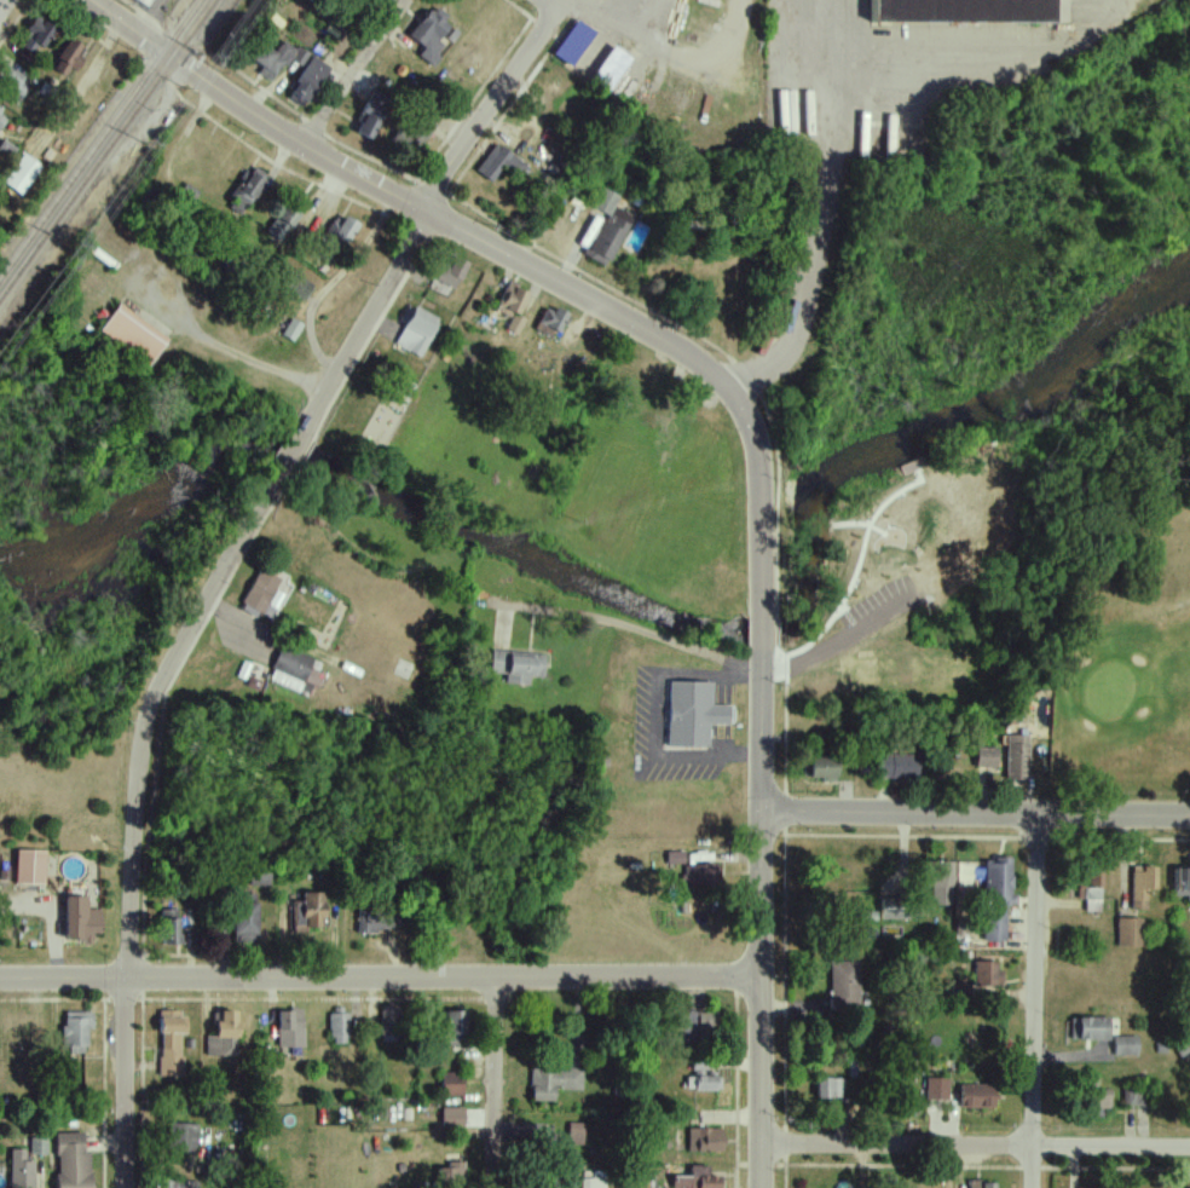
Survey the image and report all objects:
building: (689, 0)
building: (571, 1)
road: (545, 4)
road: (4, 5)
building: (150, 7)
building: (948, 18)
building: (429, 34)
building: (35, 38)
road: (655, 40)
building: (572, 44)
building: (67, 58)
building: (271, 60)
road: (354, 70)
building: (608, 70)
building: (11, 81)
building: (307, 82)
road: (825, 87)
road: (491, 110)
building: (370, 116)
building: (1, 119)
railway: (98, 138)
railway: (106, 149)
road: (372, 162)
building: (498, 165)
building: (21, 174)
building: (244, 192)
road: (412, 202)
building: (282, 223)
building: (606, 229)
building: (339, 231)
building: (446, 276)
road: (331, 282)
building: (513, 307)
road: (365, 319)
building: (550, 323)
building: (416, 333)
building: (131, 336)
road: (220, 347)
road: (289, 456)
road: (761, 504)
building: (259, 593)
road: (889, 604)
road: (626, 628)
road: (762, 633)
park: (1125, 639)
road: (662, 715)
building: (900, 766)
building: (821, 769)
road: (975, 817)
road: (138, 818)
building: (29, 866)
building: (940, 883)
building: (1091, 888)
building: (1142, 888)
building: (1188, 889)
building: (997, 898)
building: (901, 909)
building: (307, 912)
building: (82, 918)
road: (759, 918)
building: (244, 919)
building: (370, 919)
building: (171, 927)
building: (987, 974)
road: (380, 977)
building: (845, 987)
road: (1034, 1002)
building: (391, 1025)
building: (700, 1026)
building: (339, 1027)
building: (456, 1027)
building: (290, 1028)
building: (1086, 1028)
building: (75, 1032)
building: (224, 1034)
building: (171, 1044)
building: (1127, 1045)
building: (703, 1077)
building: (554, 1082)
building: (452, 1083)
road: (493, 1083)
building: (830, 1089)
building: (938, 1090)
building: (1139, 1095)
building: (978, 1096)
building: (1096, 1100)
building: (454, 1118)
building: (577, 1135)
building: (183, 1137)
building: (704, 1140)
road: (975, 1147)
building: (73, 1160)
building: (22, 1173)
building: (450, 1175)
building: (705, 1180)
building: (556, 1182)
building: (594, 1182)
building: (178, 1183)
building: (981, 1184)

